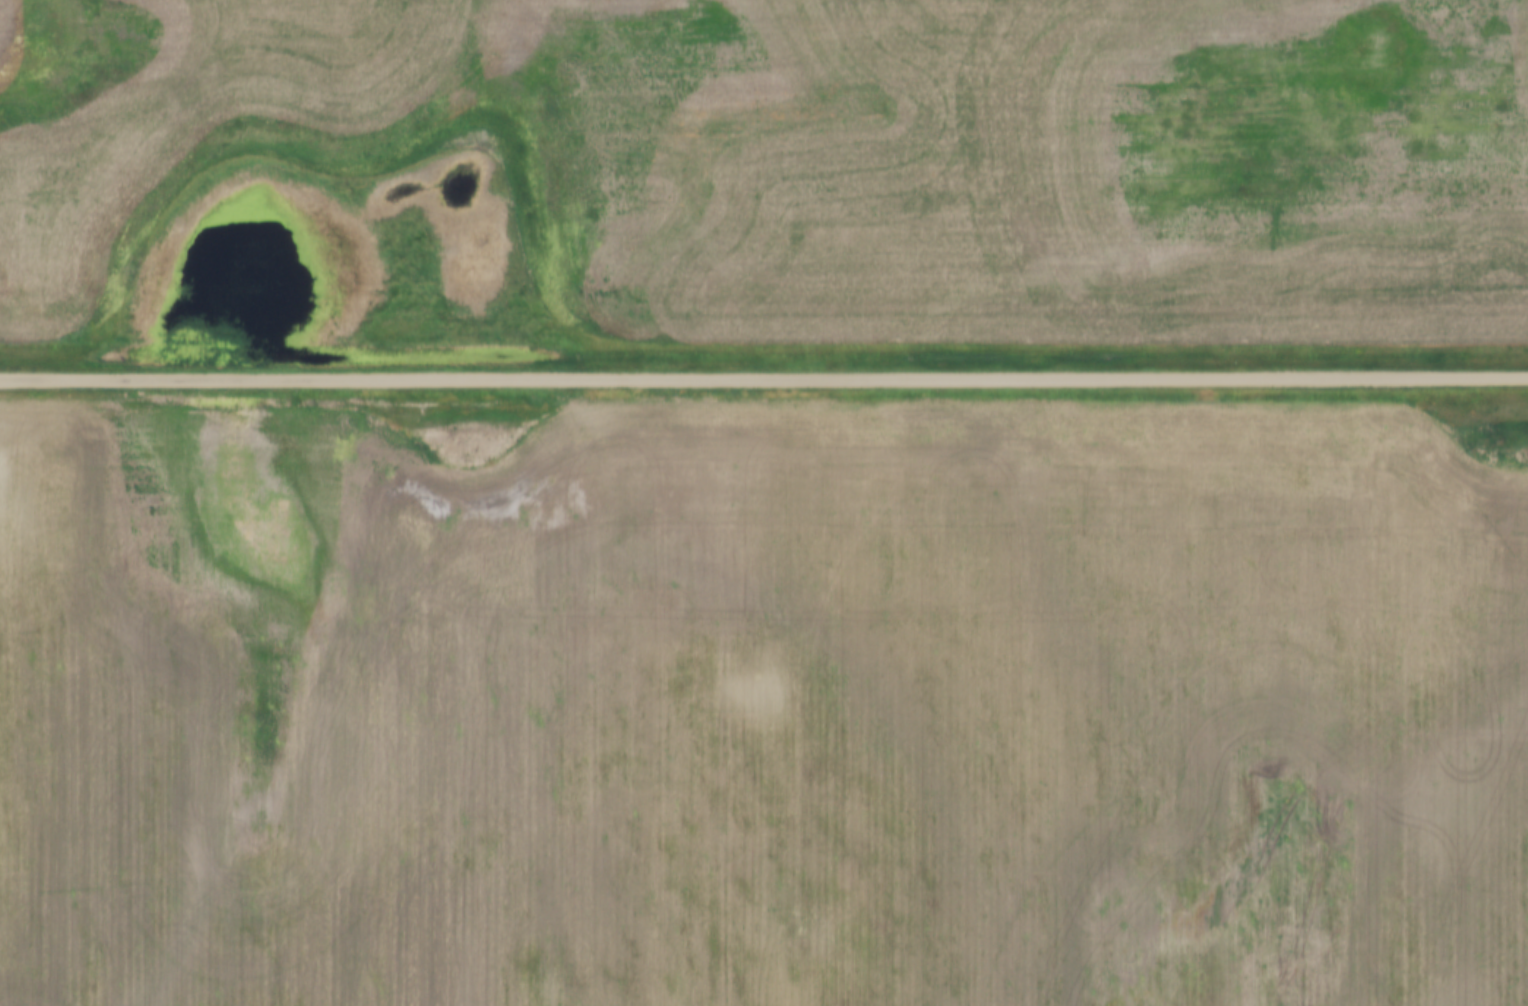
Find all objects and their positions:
road: (763, 376)

